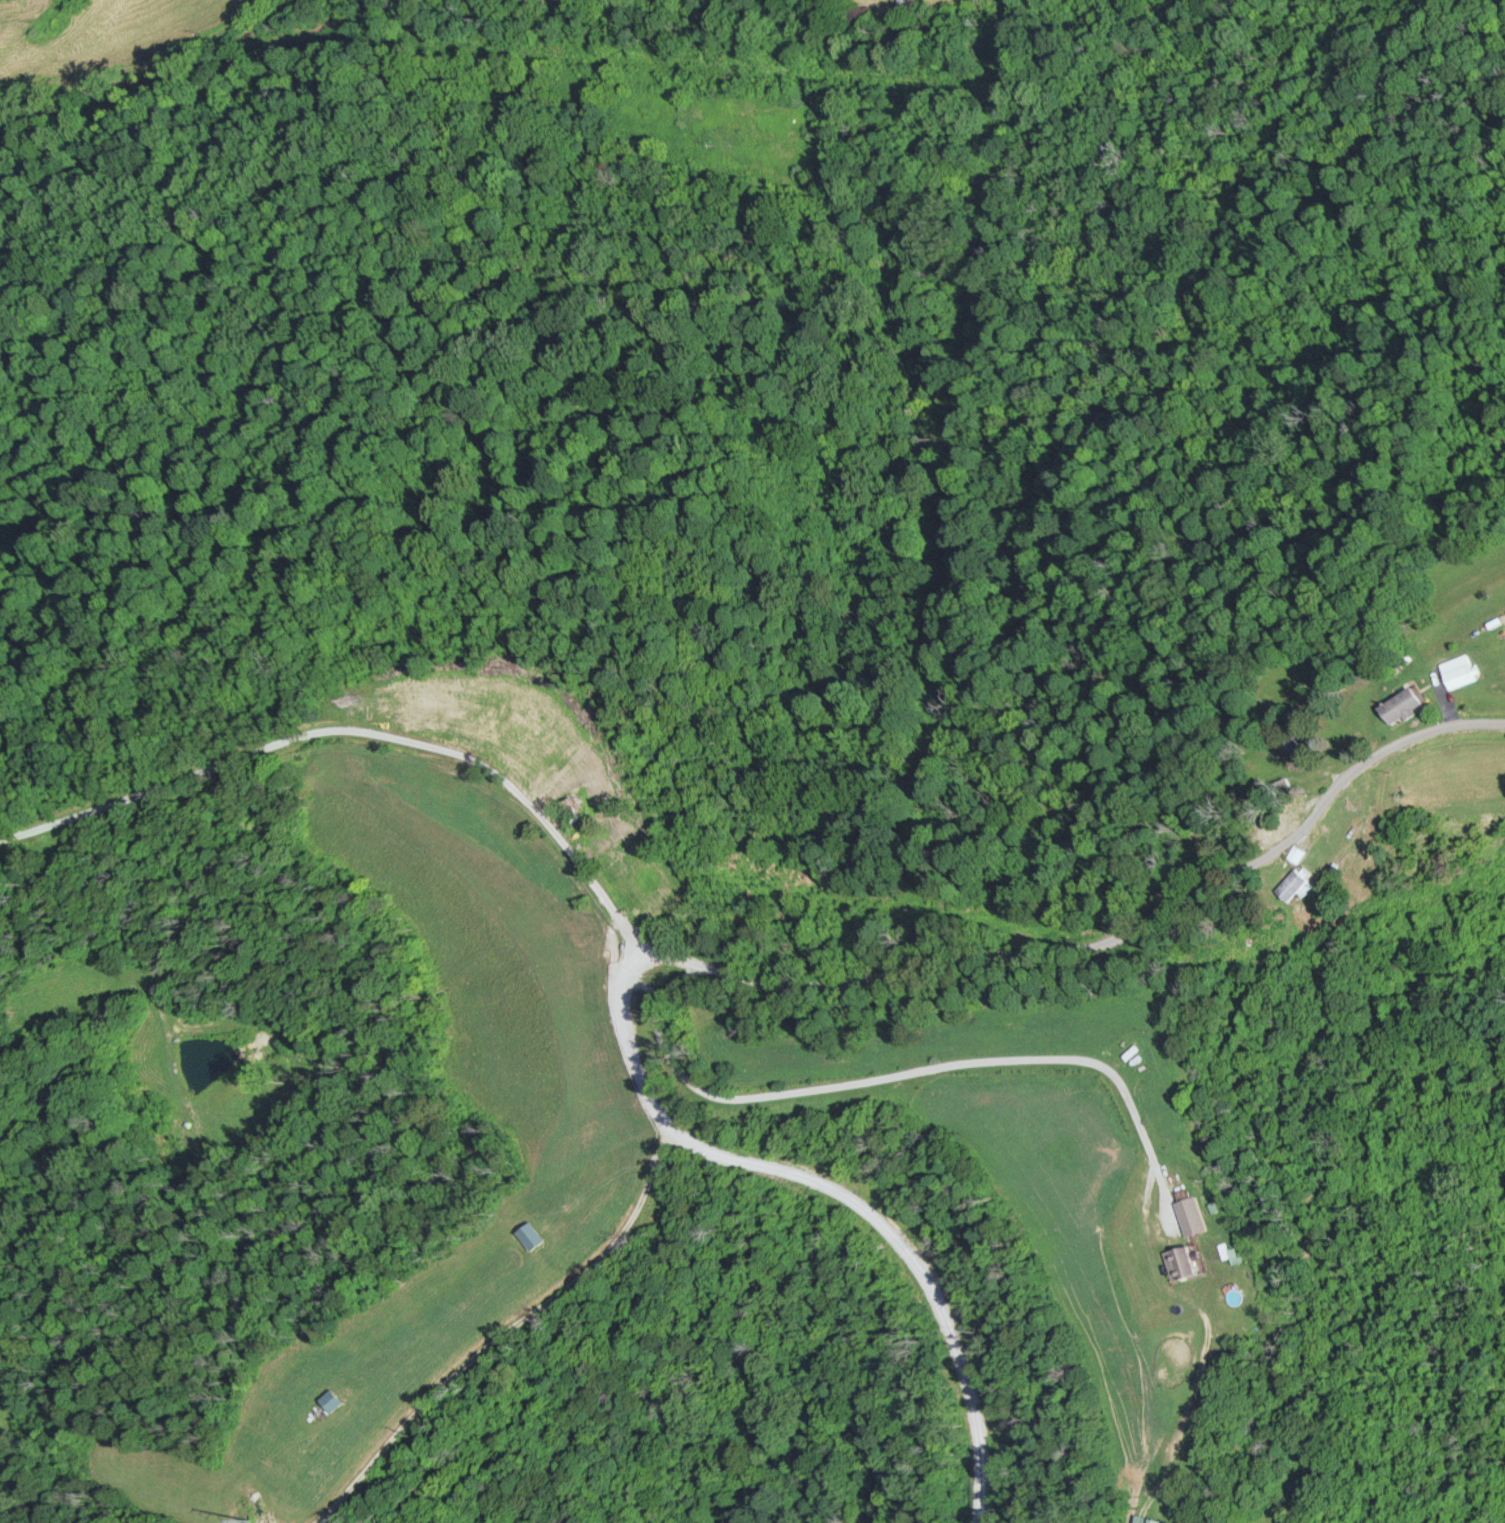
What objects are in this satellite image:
building: (860, 13)
road: (119, 64)
building: (1461, 671)
building: (1402, 705)
building: (1301, 743)
building: (1294, 811)
building: (1295, 887)
road: (736, 973)
road: (919, 1067)
road: (841, 1191)
building: (1182, 1258)
power tower: (234, 1497)
building: (1149, 1519)

